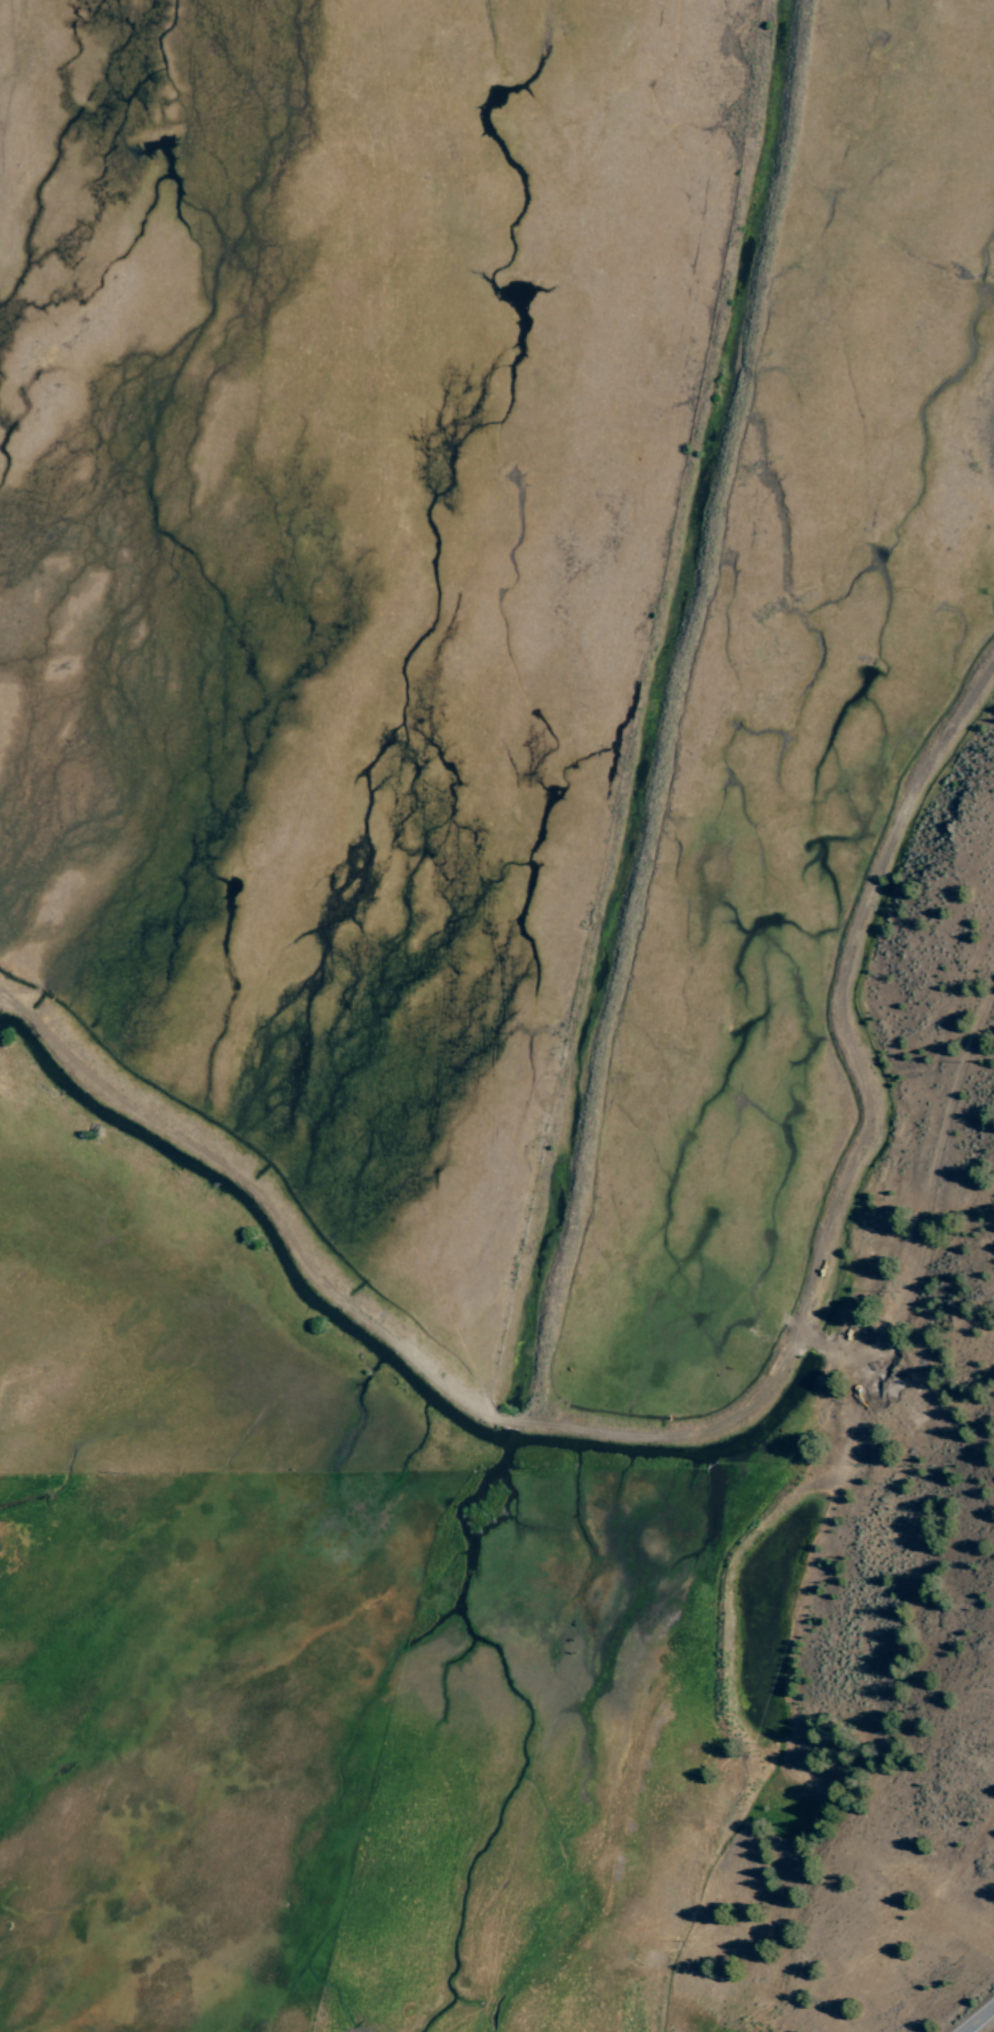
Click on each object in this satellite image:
road: (985, 2025)

